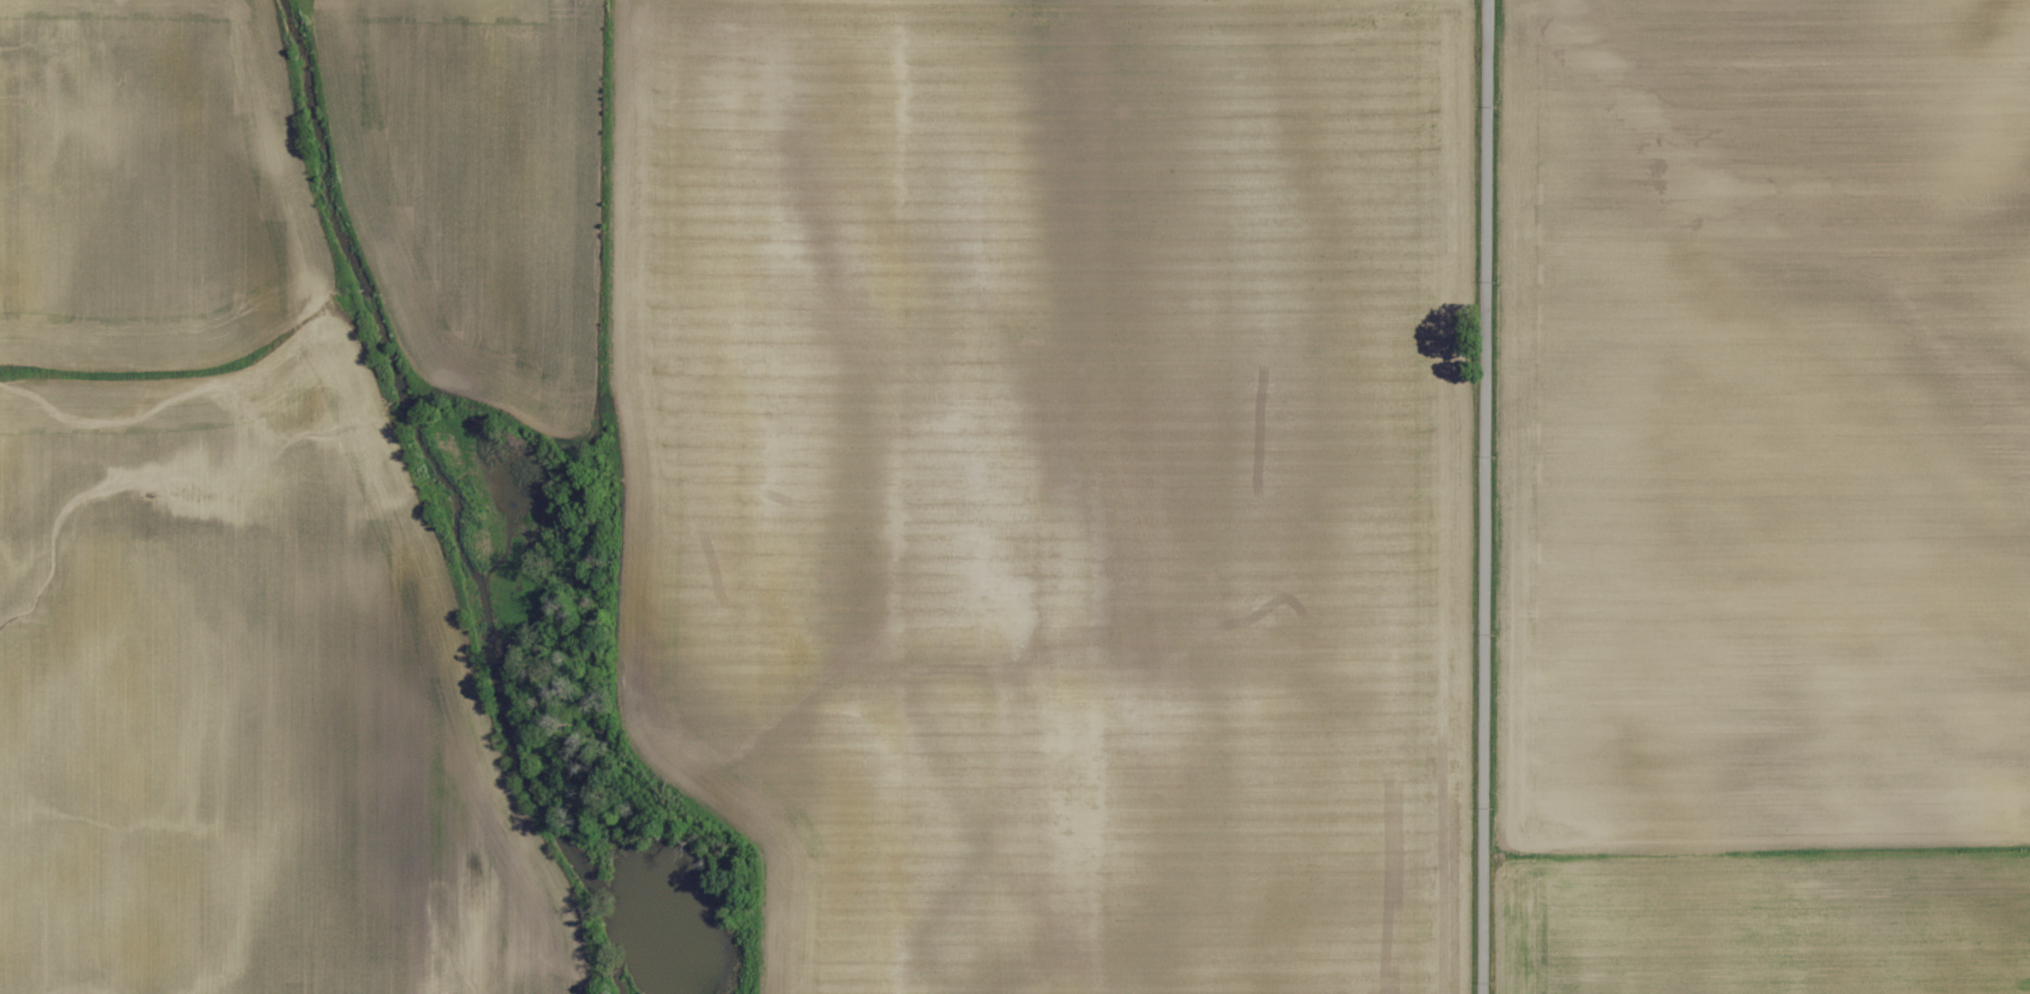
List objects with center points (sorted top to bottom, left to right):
road: (1486, 497)

